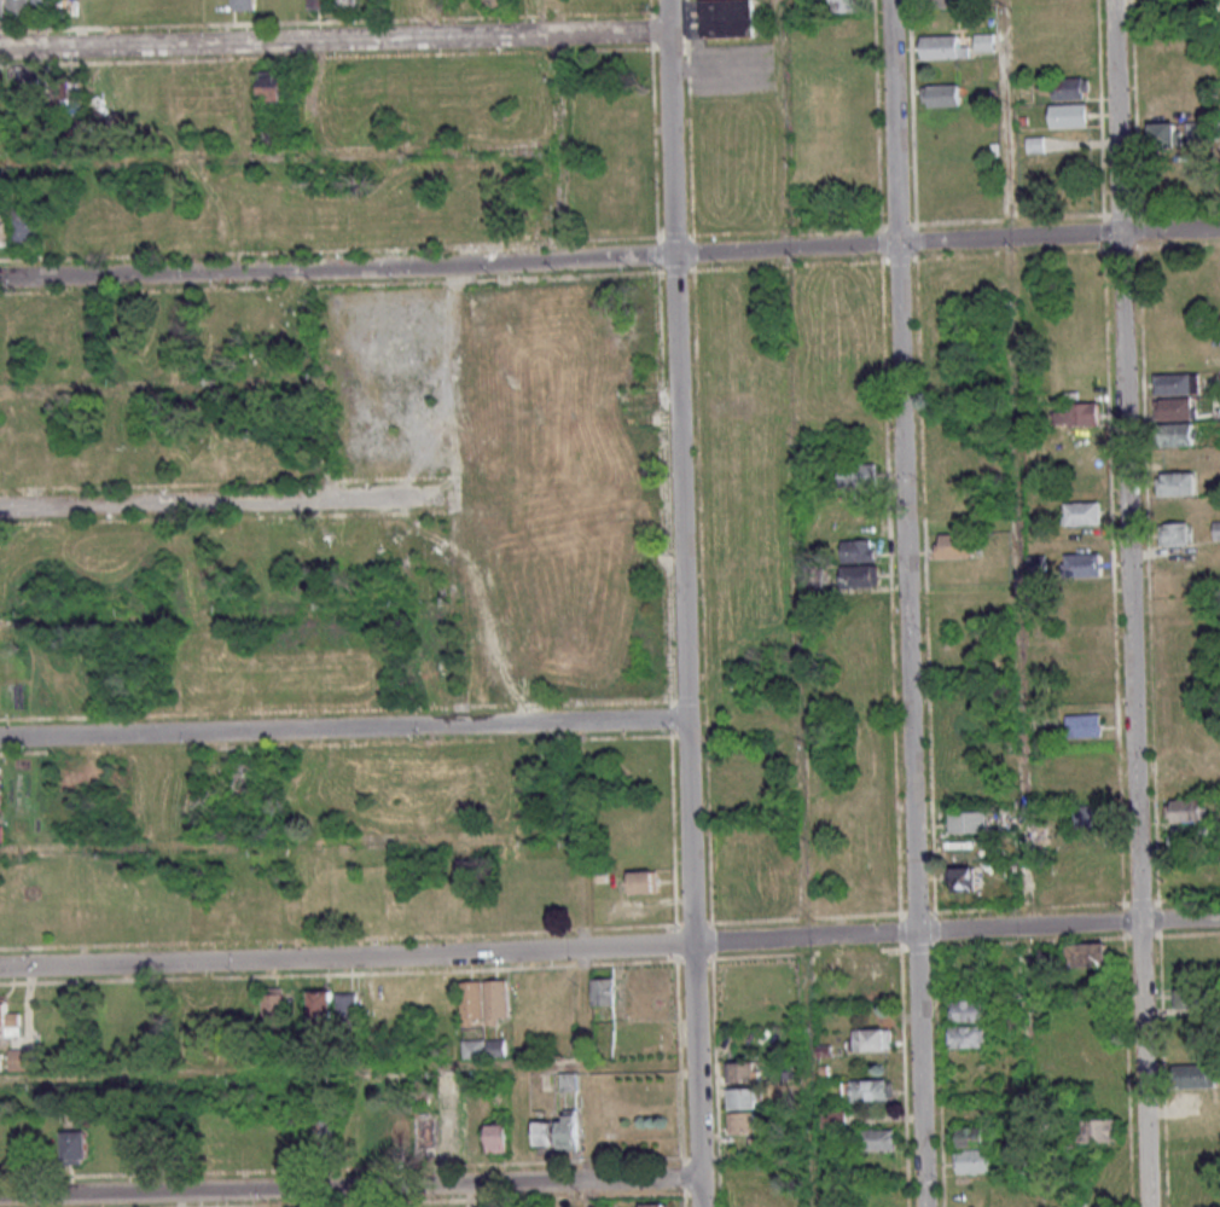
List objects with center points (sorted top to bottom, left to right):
building: (494, 2)
building: (943, 2)
building: (319, 4)
building: (343, 4)
building: (1, 5)
building: (45, 5)
building: (243, 5)
building: (846, 5)
building: (19, 6)
building: (726, 18)
road: (333, 41)
building: (983, 41)
building: (942, 47)
building: (271, 85)
building: (1070, 88)
building: (71, 94)
building: (942, 95)
building: (1069, 115)
road: (562, 129)
building: (1196, 129)
building: (1164, 134)
road: (281, 157)
building: (1178, 175)
building: (4, 227)
building: (24, 227)
road: (610, 257)
building: (1175, 385)
building: (1173, 410)
building: (1076, 416)
building: (1173, 436)
building: (855, 477)
building: (1175, 486)
road: (201, 503)
building: (1080, 515)
building: (577, 524)
building: (1215, 530)
building: (1173, 535)
building: (953, 547)
building: (856, 552)
building: (1035, 563)
building: (1080, 567)
building: (858, 578)
road: (682, 603)
road: (796, 603)
road: (905, 603)
road: (1018, 603)
road: (1128, 603)
road: (343, 727)
building: (1082, 727)
building: (1, 788)
building: (1187, 809)
building: (1087, 818)
building: (965, 824)
building: (1189, 836)
building: (962, 882)
building: (643, 884)
road: (610, 946)
building: (1088, 954)
building: (870, 964)
building: (603, 991)
building: (495, 999)
building: (470, 1000)
building: (273, 1004)
building: (347, 1006)
building: (321, 1008)
building: (965, 1009)
building: (10, 1020)
building: (966, 1035)
building: (868, 1038)
building: (474, 1048)
building: (496, 1049)
building: (21, 1058)
building: (0, 1061)
building: (739, 1070)
building: (1196, 1074)
building: (568, 1081)
building: (871, 1089)
building: (740, 1097)
building: (832, 1118)
building: (740, 1121)
building: (568, 1130)
building: (1099, 1130)
building: (326, 1133)
building: (399, 1135)
building: (425, 1135)
building: (545, 1135)
building: (451, 1137)
building: (498, 1137)
building: (877, 1138)
building: (75, 1144)
building: (972, 1150)
road: (349, 1186)
building: (655, 1205)

